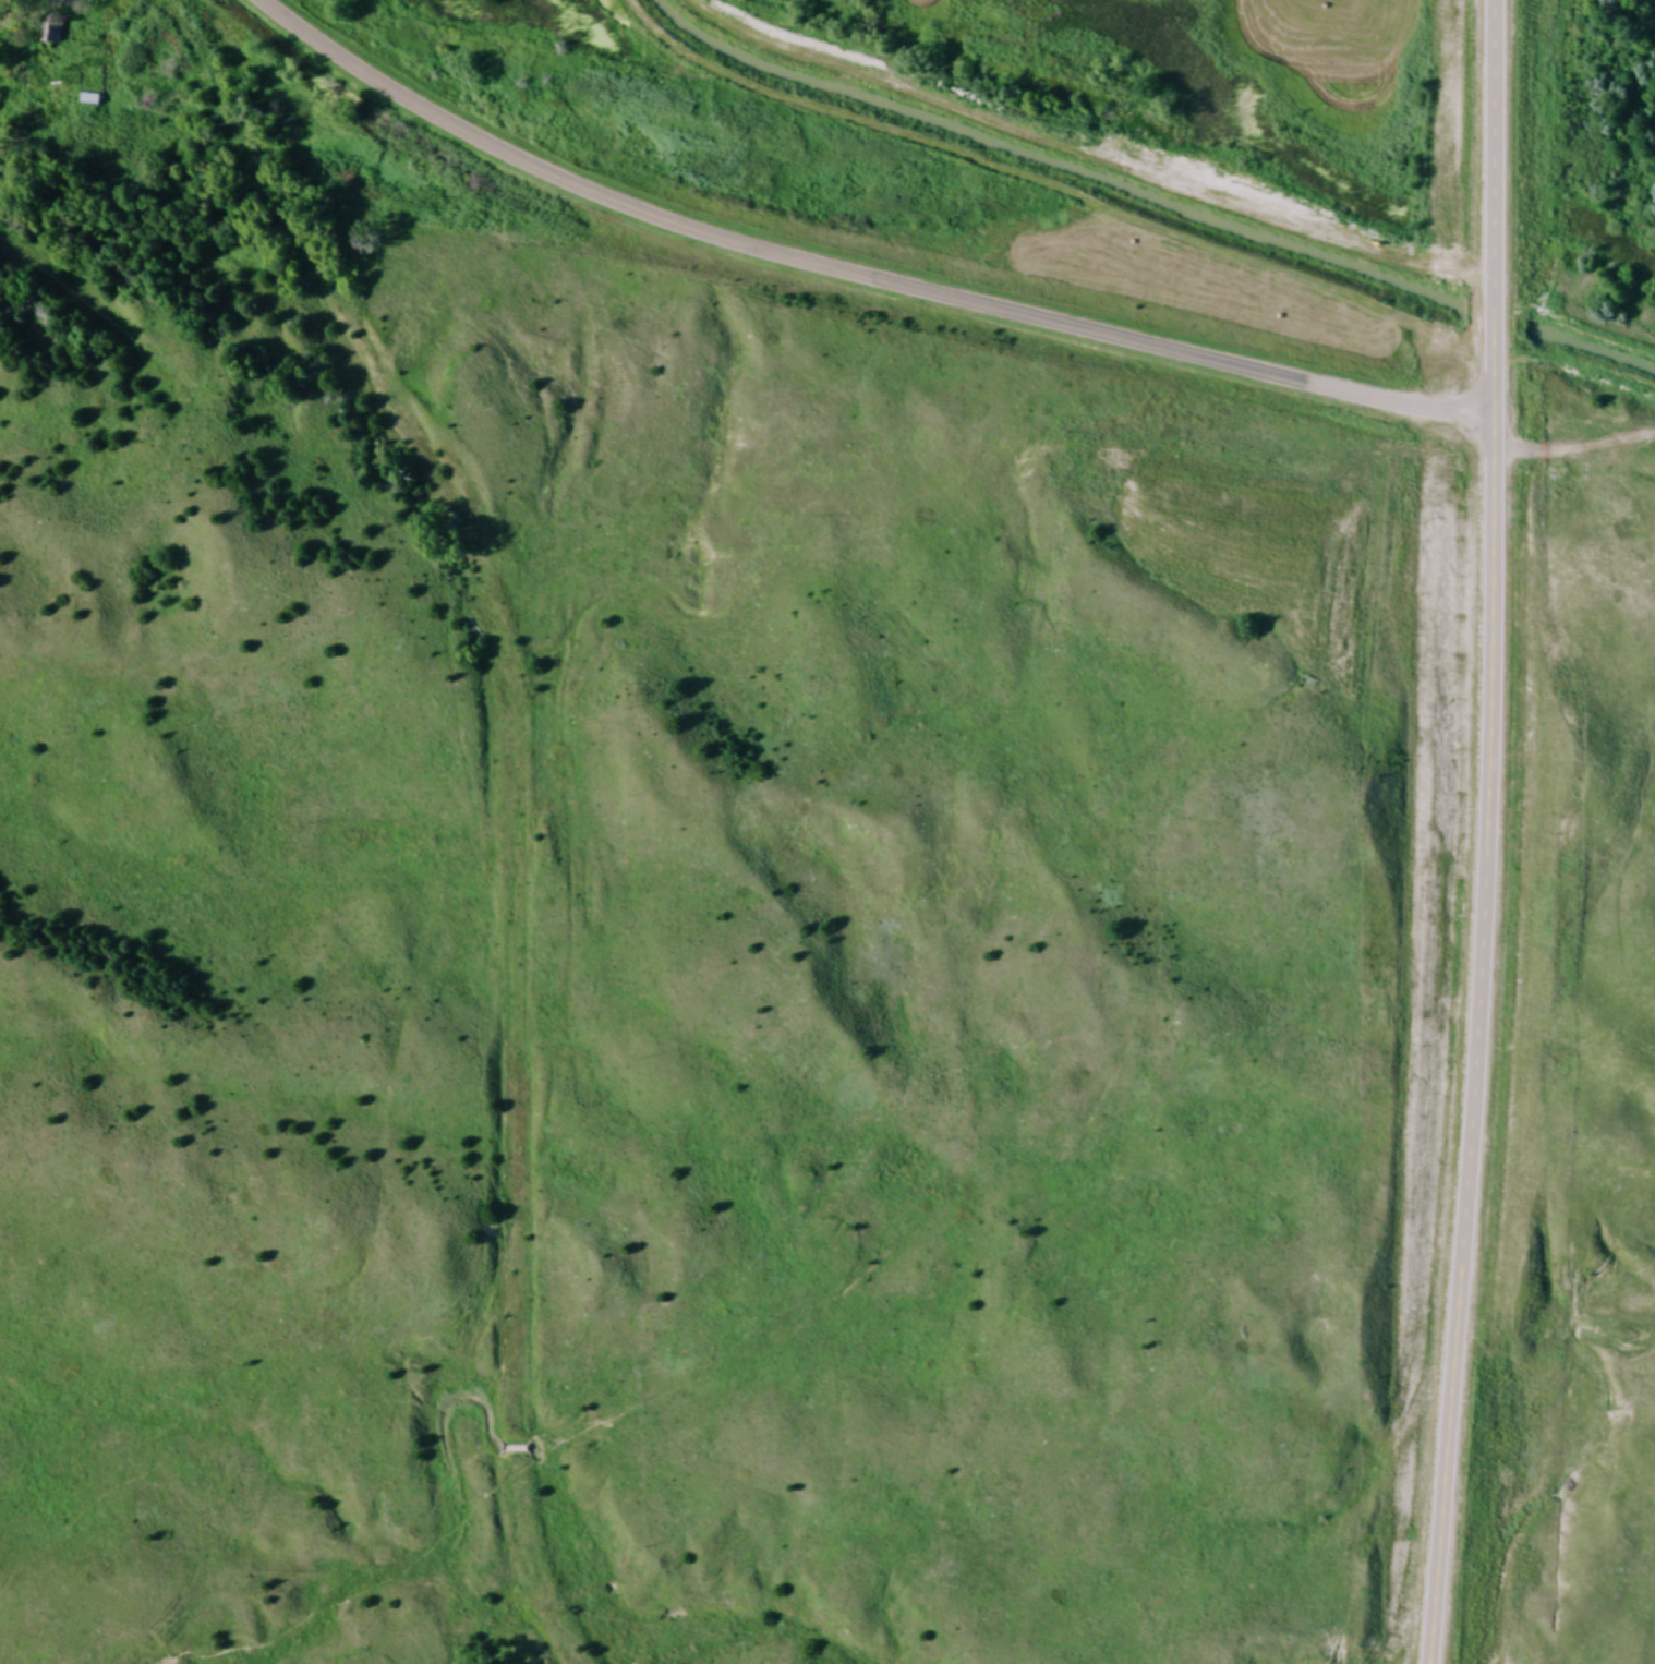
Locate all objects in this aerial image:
building: (53, 37)
road: (112, 56)
building: (92, 100)
road: (848, 274)
road: (1478, 832)
building: (515, 1452)

